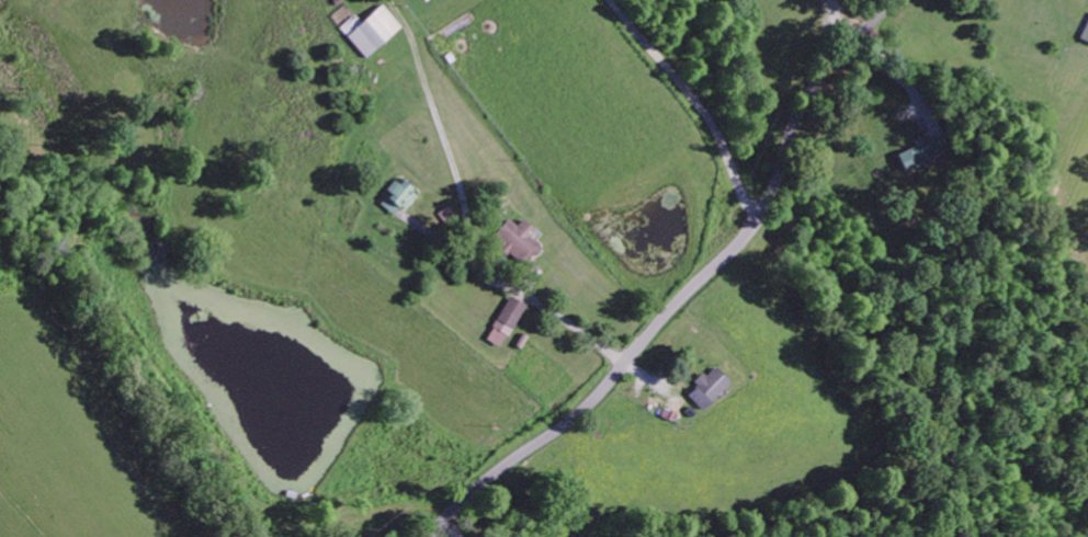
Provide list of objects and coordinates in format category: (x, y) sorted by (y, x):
building: (1084, 32)
building: (366, 33)
building: (919, 152)
building: (395, 198)
building: (514, 242)
road: (692, 290)
building: (501, 323)
building: (705, 390)

